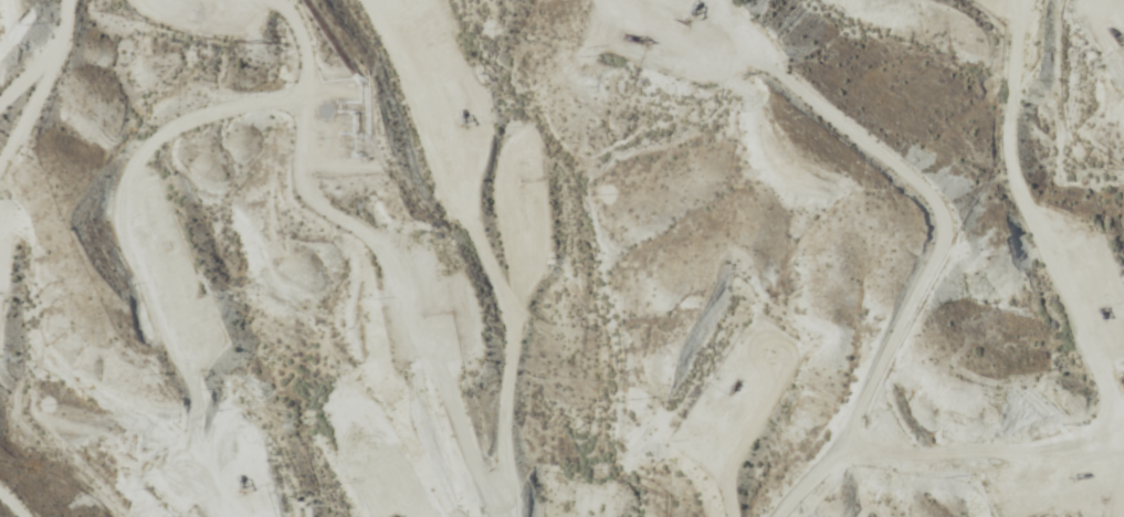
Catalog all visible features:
road: (1096, 31)

